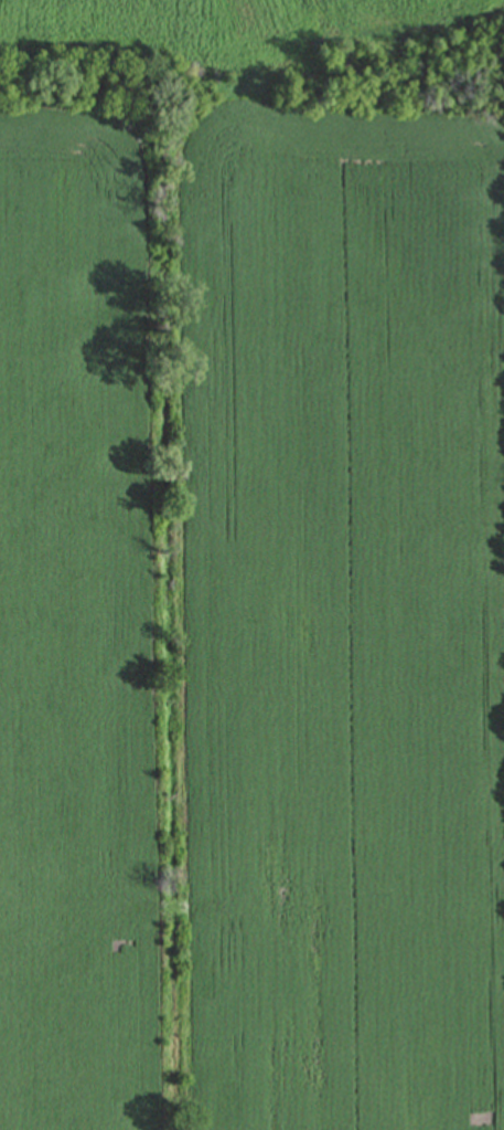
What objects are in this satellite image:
crop: (350, 613)

